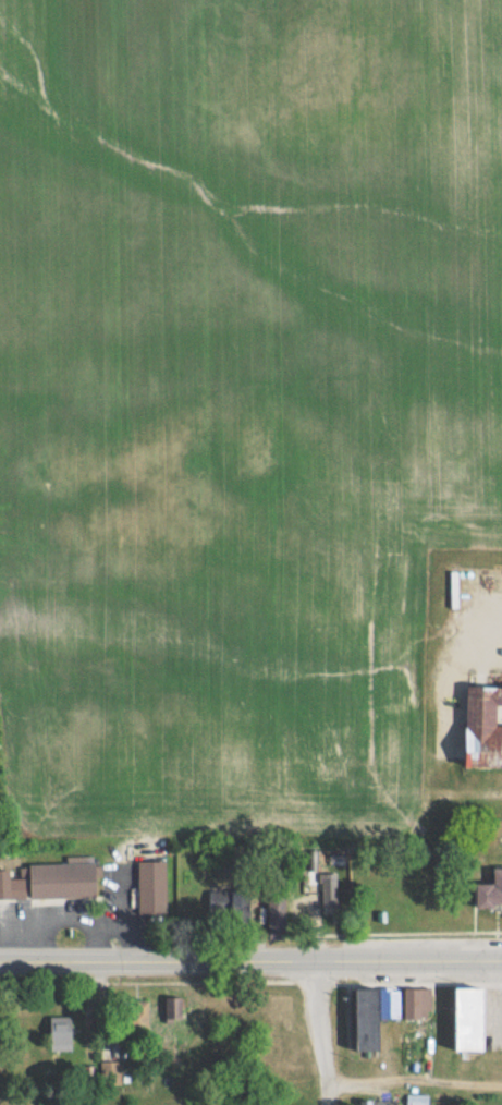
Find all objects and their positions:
building: (485, 726)
building: (63, 878)
building: (11, 883)
building: (154, 883)
building: (330, 889)
building: (490, 890)
building: (230, 902)
building: (277, 912)
road: (250, 961)
building: (391, 1001)
building: (419, 1003)
building: (137, 1013)
building: (473, 1017)
parking lot: (495, 1017)
building: (369, 1018)
road: (318, 1033)
building: (61, 1036)
building: (110, 1072)
road: (414, 1079)
building: (416, 1100)
building: (381, 1103)

